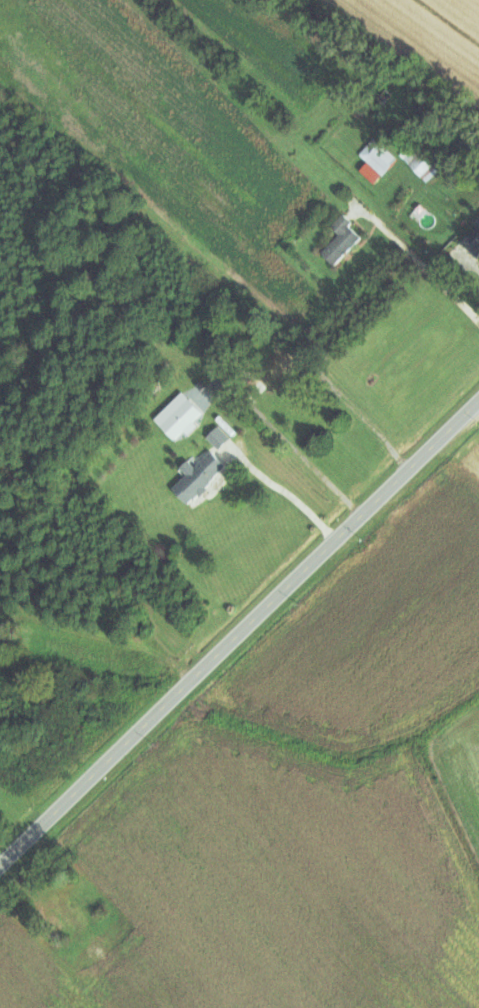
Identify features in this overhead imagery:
building: (382, 93)
building: (377, 155)
building: (426, 155)
building: (342, 238)
building: (472, 241)
road: (240, 343)
building: (270, 370)
building: (179, 416)
building: (220, 436)
building: (199, 476)
road: (289, 495)
road: (239, 631)
building: (70, 911)
building: (103, 952)

